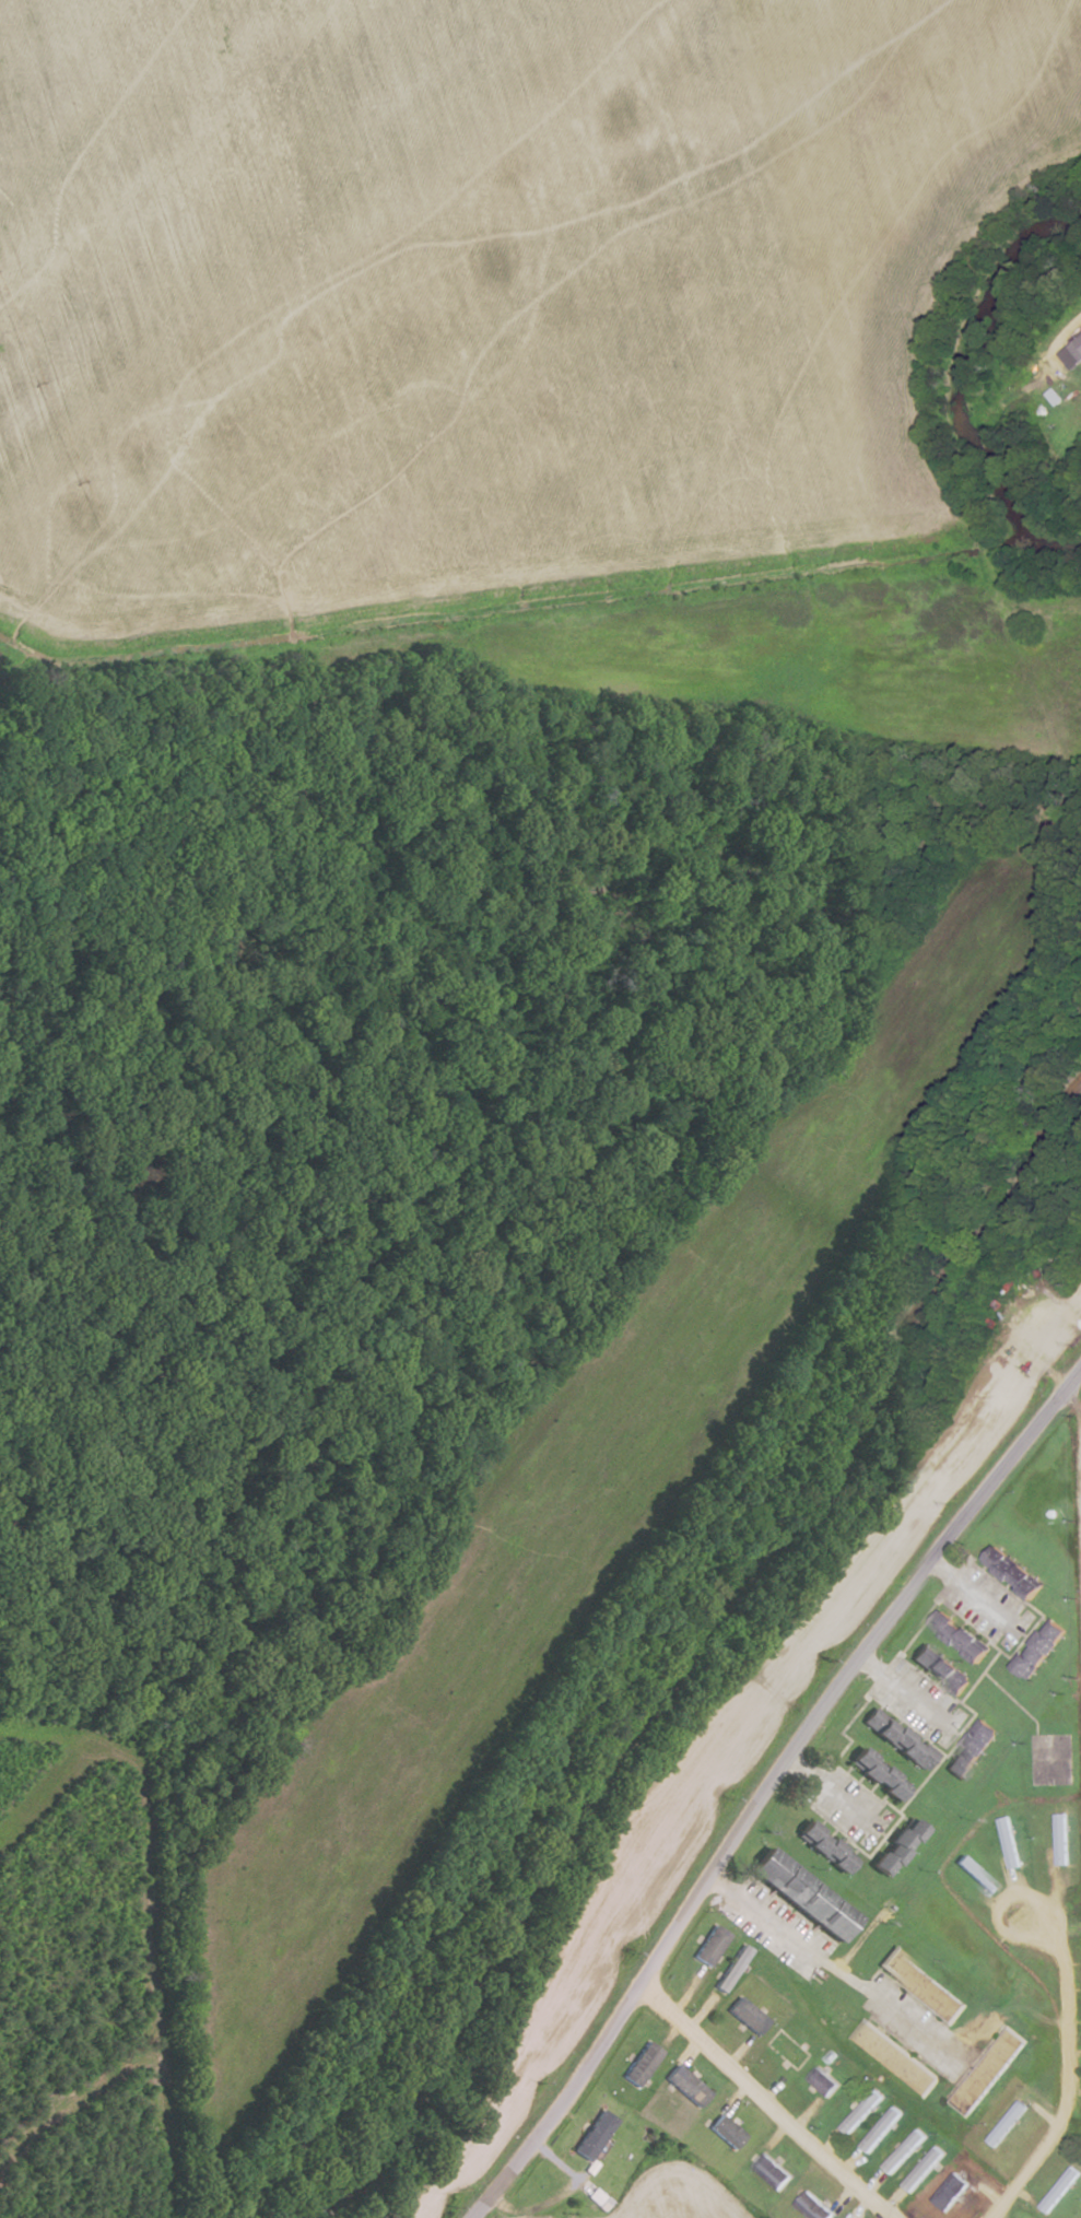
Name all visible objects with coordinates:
building: (1077, 345)
building: (1012, 1570)
building: (959, 1634)
building: (1039, 1647)
building: (939, 1667)
building: (895, 1737)
building: (970, 1749)
building: (876, 1772)
road: (763, 1784)
building: (1061, 1838)
building: (1010, 1842)
building: (822, 1845)
building: (894, 1846)
building: (975, 1875)
building: (800, 1893)
building: (709, 1944)
building: (731, 1968)
road: (833, 1972)
building: (920, 1984)
building: (747, 2015)
building: (894, 2057)
building: (642, 2063)
road: (1068, 2066)
building: (987, 2070)
building: (822, 2080)
building: (686, 2086)
road: (764, 2100)
building: (861, 2112)
building: (1007, 2123)
building: (881, 2129)
building: (726, 2131)
building: (594, 2135)
building: (904, 2151)
building: (923, 2169)
building: (771, 2171)
building: (1059, 2188)
building: (949, 2191)
building: (812, 2206)

